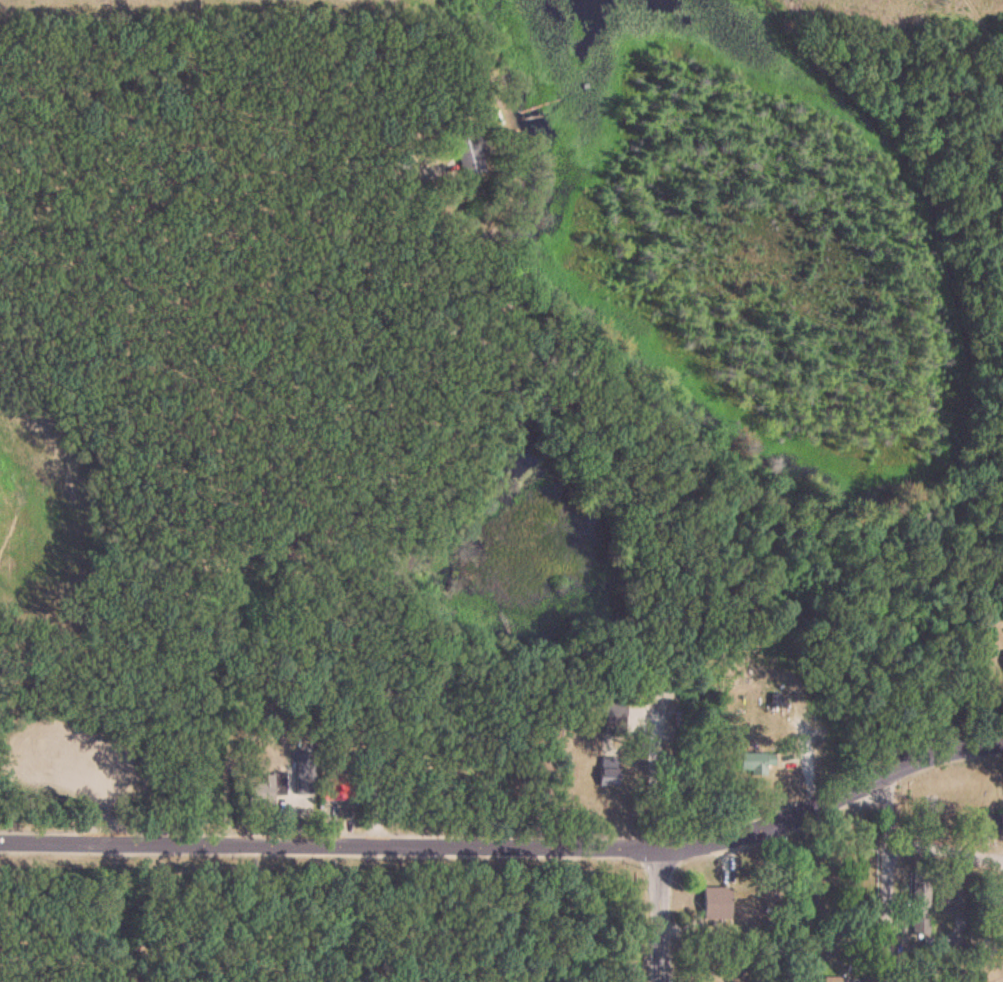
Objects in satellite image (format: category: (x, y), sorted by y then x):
building: (464, 148)
building: (403, 165)
road: (463, 487)
road: (393, 521)
park: (63, 626)
building: (777, 701)
building: (613, 718)
building: (754, 761)
building: (304, 772)
parking lot: (79, 774)
building: (606, 777)
building: (266, 789)
building: (338, 791)
building: (989, 823)
road: (949, 842)
road: (511, 845)
road: (895, 875)
building: (943, 888)
building: (716, 902)
building: (919, 903)
road: (658, 914)

